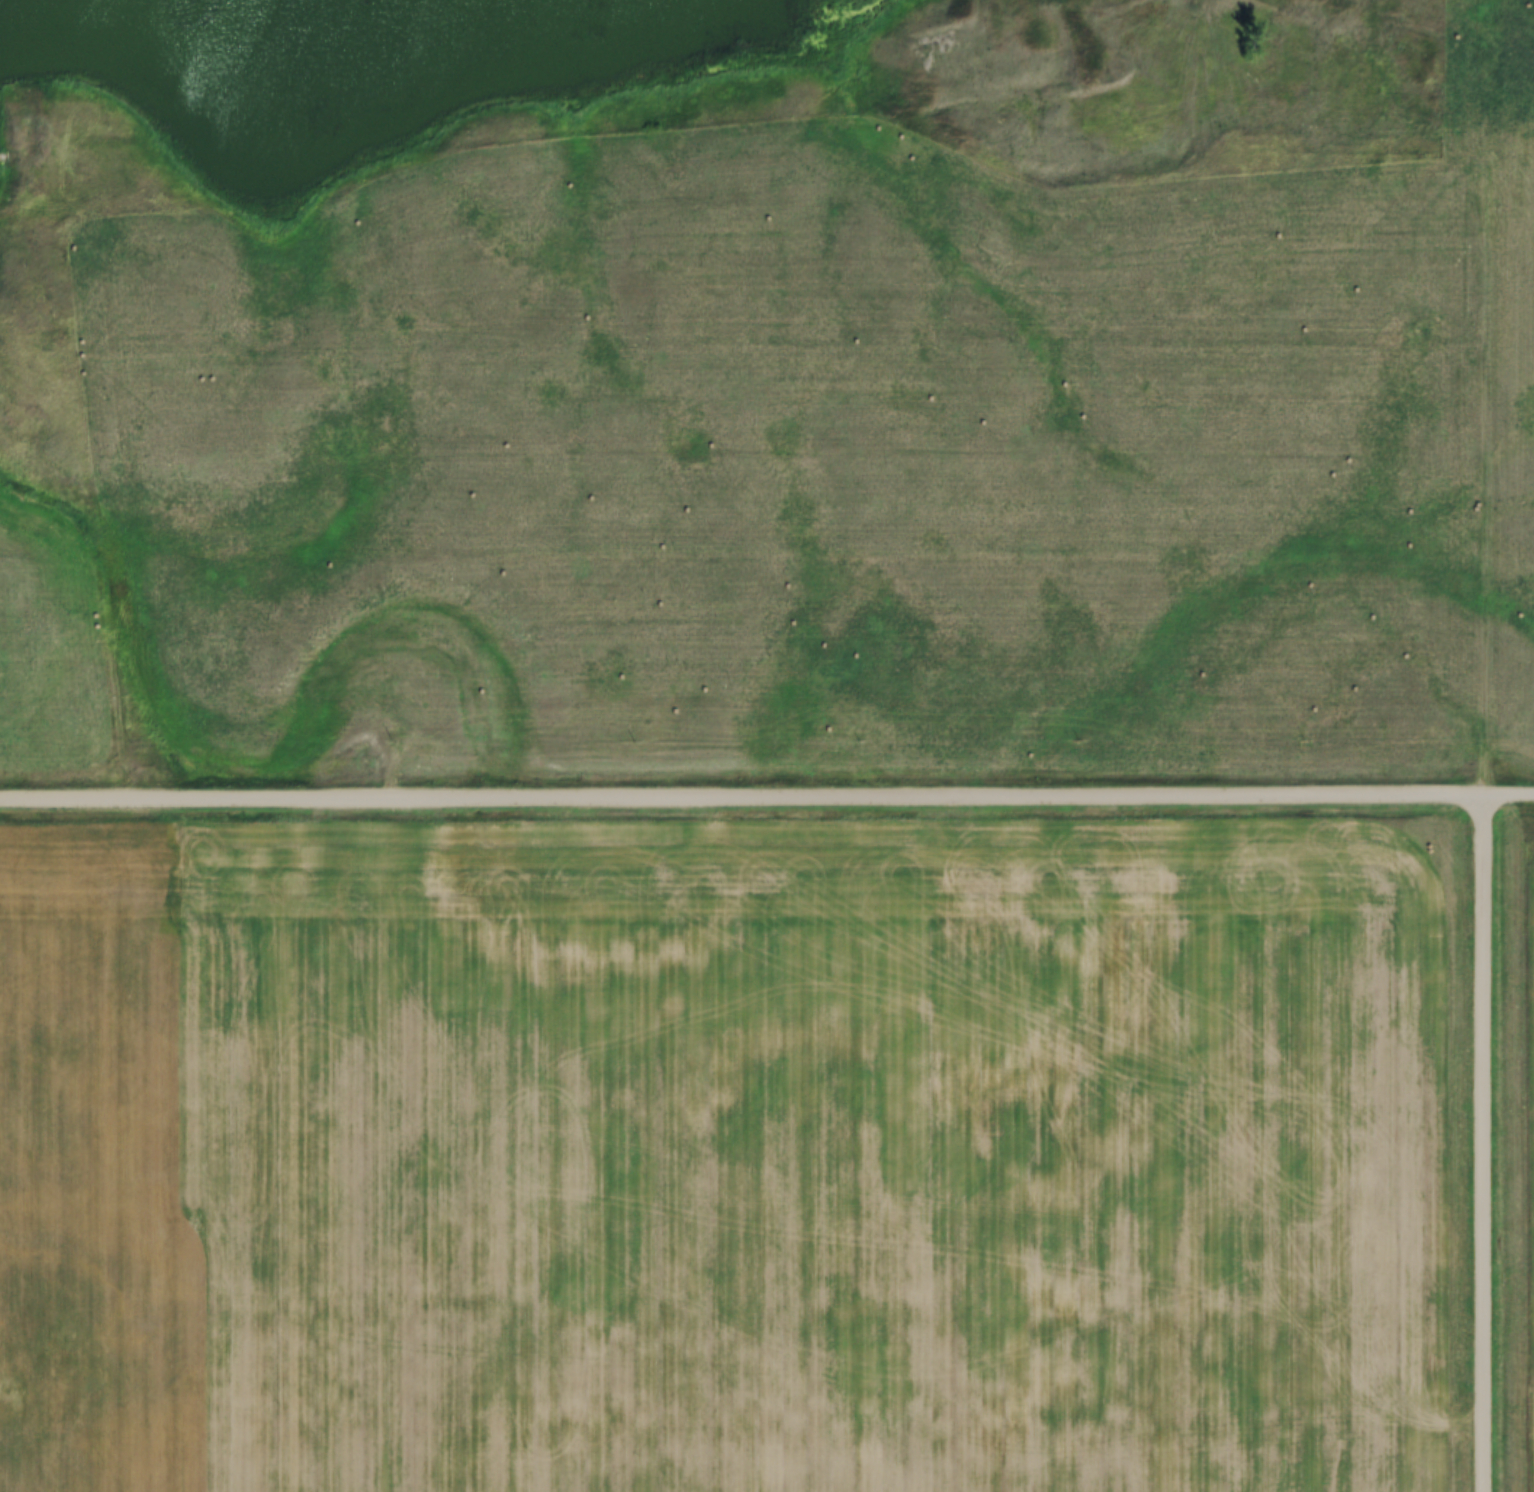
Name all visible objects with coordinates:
road: (767, 799)
road: (1491, 1145)

